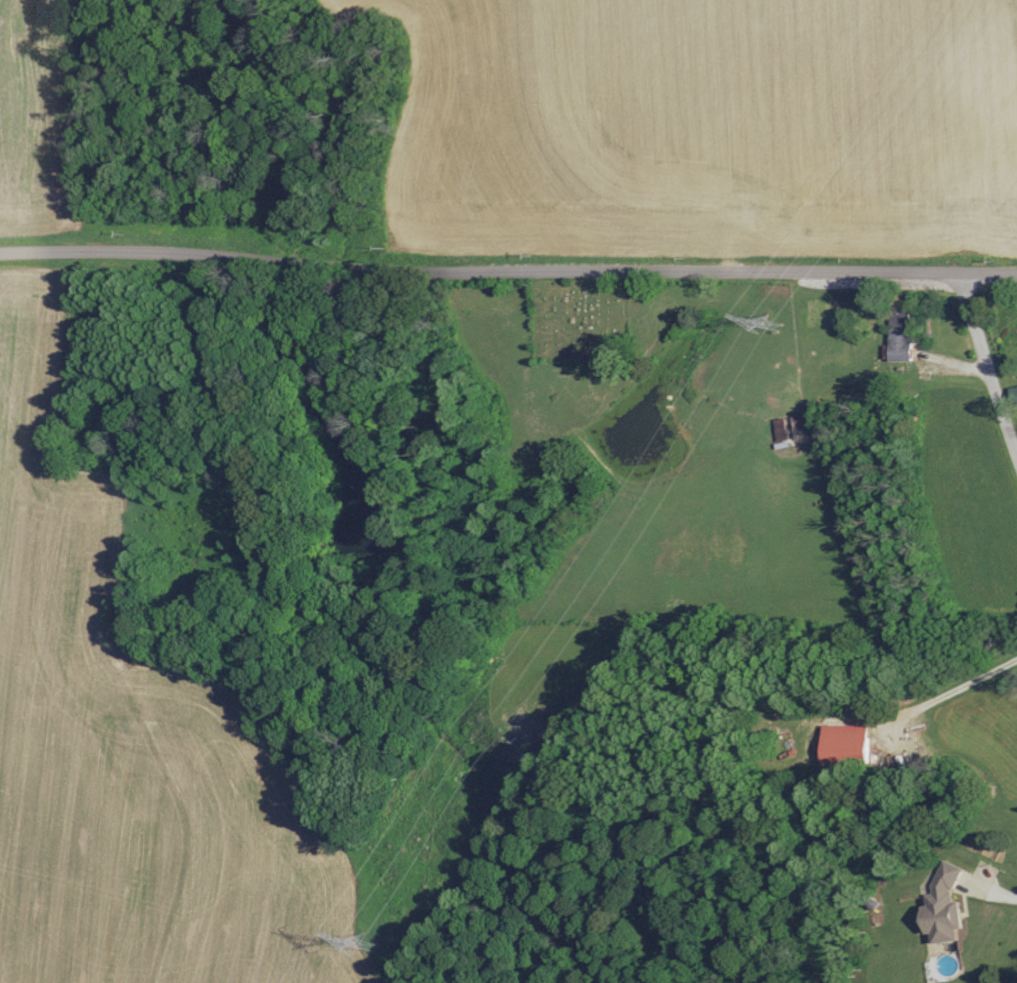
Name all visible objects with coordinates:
road: (508, 274)
power tower: (775, 324)
building: (896, 333)
road: (932, 356)
road: (984, 360)
building: (1014, 394)
building: (798, 424)
building: (779, 429)
road: (956, 689)
building: (842, 741)
road: (995, 891)
building: (940, 905)
power tower: (370, 942)

